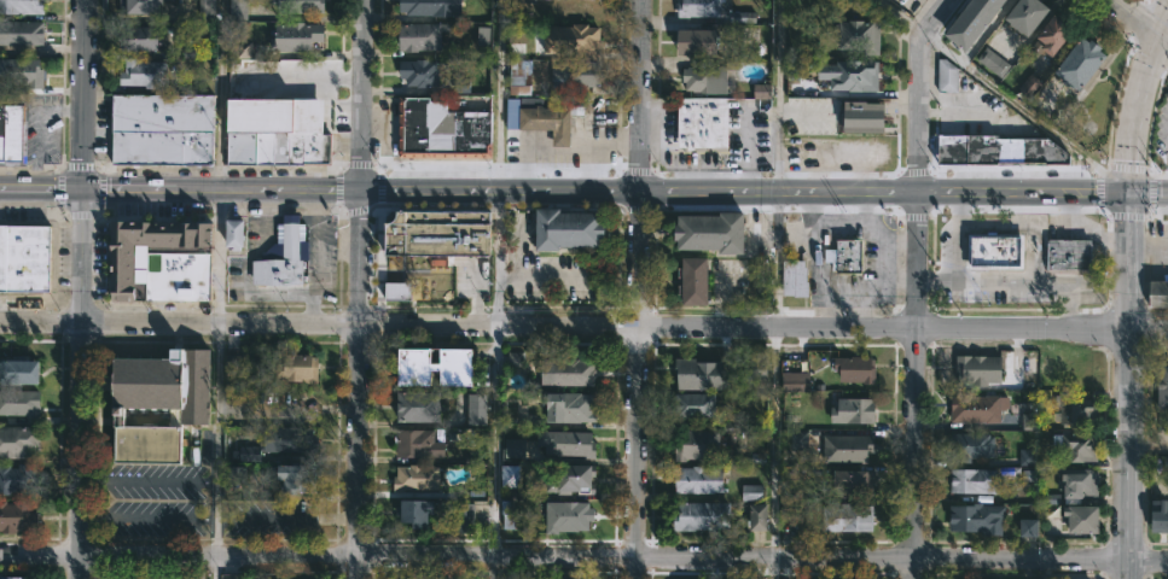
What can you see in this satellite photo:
building: (523, 1)
building: (300, 6)
building: (22, 7)
building: (140, 7)
building: (420, 7)
building: (207, 10)
building: (238, 10)
building: (702, 10)
building: (1029, 13)
road: (1139, 16)
building: (972, 22)
traffic signals: (1160, 31)
building: (21, 34)
building: (1054, 34)
road: (1163, 34)
building: (483, 35)
building: (418, 36)
building: (860, 36)
building: (298, 37)
building: (140, 39)
building: (531, 40)
building: (580, 41)
building: (698, 41)
building: (240, 51)
building: (994, 60)
building: (1082, 60)
building: (573, 70)
building: (22, 72)
building: (420, 72)
building: (144, 74)
building: (521, 76)
building: (855, 76)
building: (948, 76)
building: (710, 77)
road: (301, 80)
building: (1029, 84)
building: (761, 90)
road: (221, 95)
road: (498, 96)
road: (783, 96)
road: (1004, 98)
building: (512, 113)
building: (550, 118)
building: (859, 118)
building: (705, 121)
building: (442, 128)
building: (163, 129)
building: (277, 130)
building: (12, 136)
building: (1000, 148)
road: (41, 191)
traffic signals: (83, 191)
road: (132, 191)
road: (674, 195)
traffic signals: (1129, 198)
road: (1028, 221)
building: (569, 229)
building: (714, 230)
road: (1077, 230)
building: (440, 232)
building: (236, 233)
road: (955, 239)
road: (1147, 244)
building: (998, 251)
building: (1071, 252)
building: (847, 255)
building: (24, 256)
building: (162, 259)
building: (283, 261)
building: (796, 277)
building: (696, 279)
road: (1013, 282)
road: (916, 285)
road: (360, 288)
road: (639, 288)
road: (82, 289)
building: (399, 289)
building: (1160, 292)
road: (1126, 294)
road: (583, 327)
building: (515, 358)
building: (437, 364)
building: (301, 367)
building: (757, 367)
building: (855, 368)
building: (981, 369)
building: (571, 372)
building: (19, 373)
building: (702, 374)
building: (796, 380)
building: (1163, 385)
road: (773, 387)
building: (19, 402)
building: (158, 402)
building: (697, 404)
building: (420, 405)
building: (571, 405)
building: (981, 408)
building: (477, 409)
building: (854, 410)
building: (1077, 410)
building: (174, 417)
building: (1029, 421)
building: (18, 440)
road: (215, 440)
building: (281, 441)
building: (418, 443)
building: (573, 443)
building: (698, 444)
building: (972, 445)
building: (1077, 446)
building: (515, 448)
building: (848, 448)
road: (1146, 449)
road: (495, 452)
building: (1028, 456)
building: (512, 475)
building: (234, 476)
building: (297, 478)
building: (417, 478)
building: (571, 478)
building: (17, 479)
building: (698, 479)
building: (856, 480)
building: (975, 480)
road: (146, 481)
building: (1080, 481)
building: (751, 492)
building: (418, 511)
building: (17, 515)
building: (569, 515)
building: (703, 515)
building: (1161, 515)
building: (512, 516)
building: (759, 516)
building: (849, 516)
building: (978, 517)
road: (146, 519)
building: (464, 519)
building: (1085, 520)
building: (1028, 527)
road: (583, 557)
road: (214, 567)
building: (13, 577)
building: (419, 577)
building: (507, 578)
building: (757, 578)

